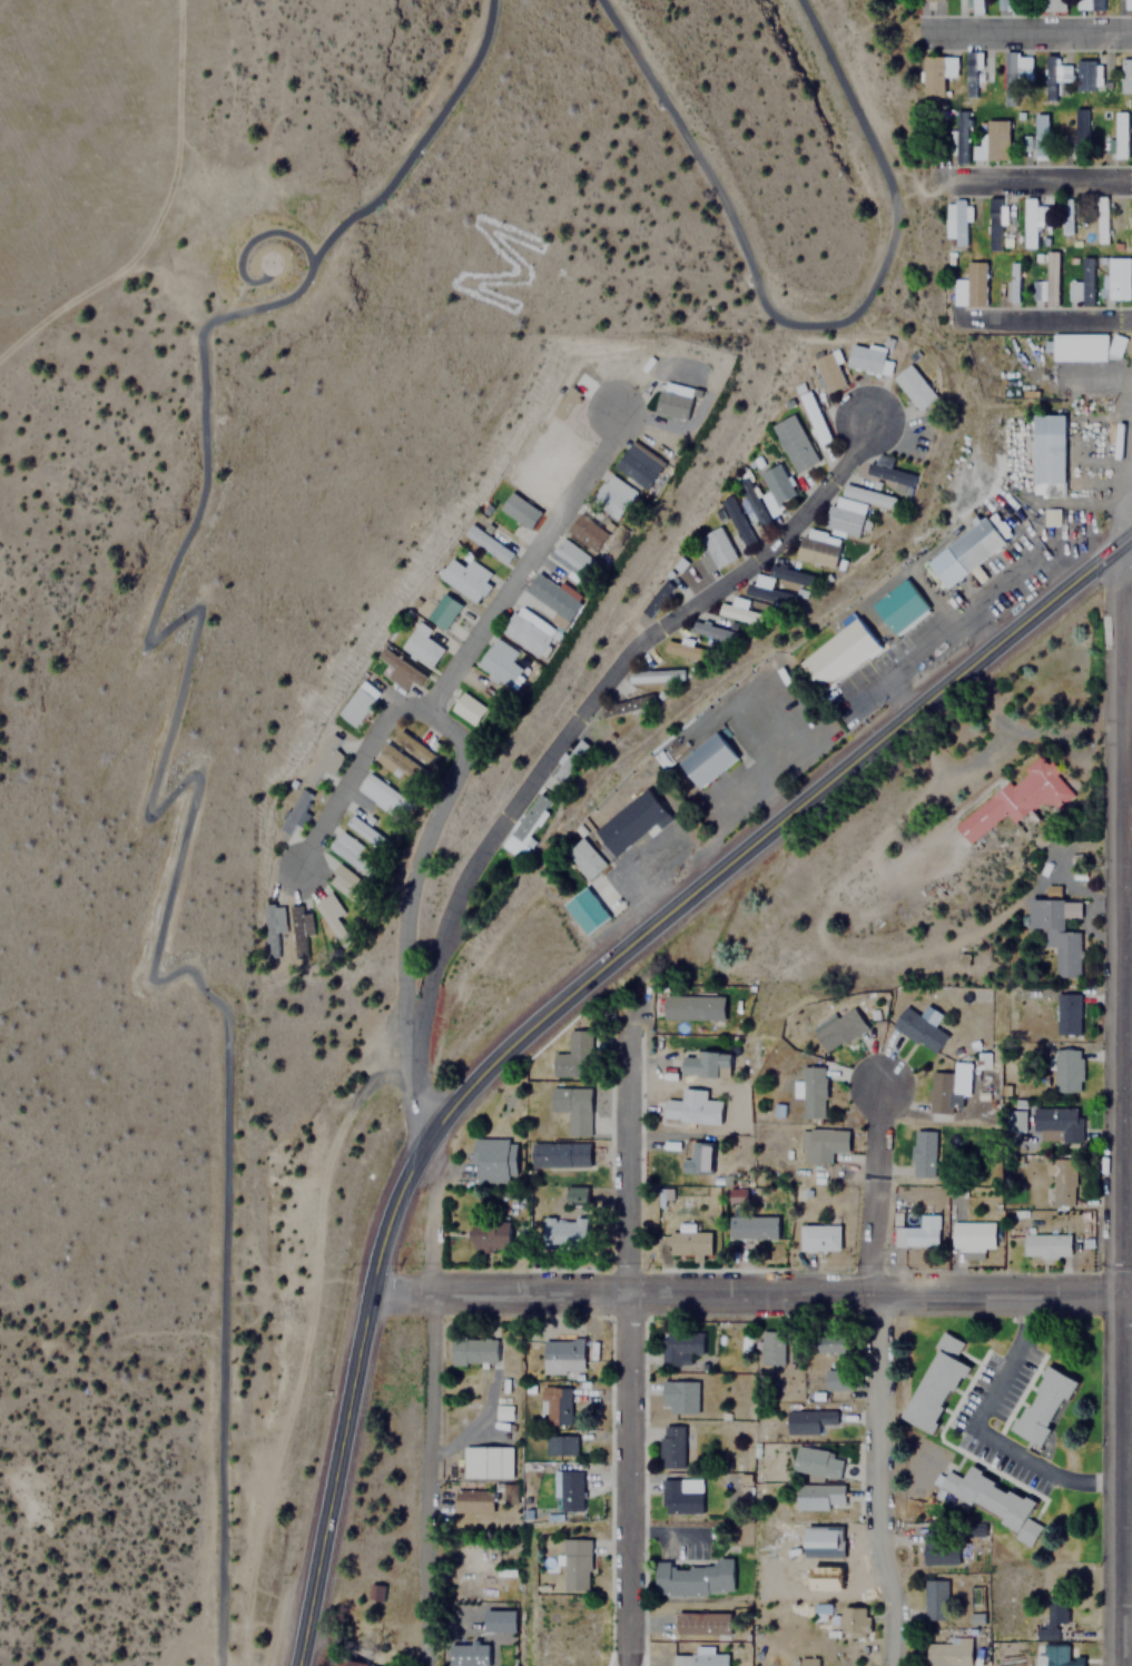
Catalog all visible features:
building: (931, 0)
building: (1089, 4)
building: (1013, 6)
building: (1053, 6)
building: (1128, 6)
building: (976, 7)
road: (1026, 23)
building: (1054, 71)
building: (934, 73)
building: (971, 73)
building: (1013, 73)
building: (1084, 76)
building: (1125, 76)
building: (1039, 136)
building: (1116, 136)
building: (958, 137)
building: (1074, 138)
building: (996, 139)
road: (1043, 171)
building: (1064, 215)
building: (1100, 219)
building: (953, 221)
building: (1028, 221)
building: (993, 224)
building: (1130, 226)
road: (255, 236)
park: (510, 266)
building: (1049, 278)
building: (1115, 278)
building: (1016, 284)
building: (1080, 285)
building: (968, 286)
building: (1039, 292)
road: (1044, 309)
road: (807, 324)
building: (1114, 346)
building: (1079, 347)
building: (864, 357)
building: (826, 369)
building: (913, 385)
building: (672, 398)
building: (567, 403)
building: (813, 416)
building: (793, 443)
building: (1046, 454)
building: (639, 465)
building: (886, 473)
building: (775, 483)
road: (1125, 492)
building: (611, 495)
building: (867, 495)
building: (749, 502)
building: (519, 510)
building: (734, 519)
building: (857, 519)
building: (587, 531)
road: (1125, 535)
building: (485, 542)
building: (716, 545)
building: (816, 546)
building: (964, 551)
building: (570, 561)
road: (532, 562)
building: (464, 578)
building: (768, 590)
building: (549, 598)
building: (653, 599)
building: (898, 605)
building: (442, 611)
building: (740, 612)
building: (713, 630)
building: (526, 632)
building: (421, 648)
building: (686, 649)
building: (837, 653)
building: (498, 662)
building: (398, 670)
building: (656, 674)
building: (356, 703)
building: (626, 706)
building: (466, 708)
road: (565, 729)
building: (412, 746)
road: (459, 753)
building: (569, 758)
building: (323, 759)
building: (705, 759)
building: (398, 765)
building: (382, 793)
road: (149, 795)
building: (1014, 798)
building: (294, 811)
building: (629, 821)
building: (364, 830)
building: (350, 852)
building: (583, 858)
road: (1125, 878)
building: (343, 883)
building: (1053, 890)
building: (584, 910)
building: (328, 913)
building: (269, 927)
building: (298, 928)
building: (1056, 933)
road: (553, 1004)
building: (692, 1006)
building: (1066, 1013)
building: (838, 1028)
building: (918, 1031)
building: (573, 1055)
building: (702, 1063)
building: (1067, 1071)
building: (811, 1092)
building: (942, 1092)
road: (1115, 1103)
building: (571, 1107)
building: (691, 1107)
building: (1057, 1121)
building: (820, 1144)
building: (922, 1153)
building: (558, 1154)
building: (697, 1159)
building: (491, 1161)
building: (1061, 1182)
building: (738, 1194)
building: (572, 1195)
building: (752, 1226)
building: (564, 1229)
building: (916, 1232)
building: (488, 1235)
building: (972, 1235)
building: (818, 1238)
building: (689, 1243)
building: (1045, 1244)
road: (749, 1295)
road: (623, 1334)
building: (829, 1345)
building: (678, 1347)
building: (770, 1347)
building: (473, 1352)
building: (561, 1354)
road: (874, 1378)
building: (837, 1380)
building: (936, 1384)
building: (678, 1397)
road: (427, 1401)
building: (1042, 1406)
building: (557, 1408)
building: (807, 1420)
building: (559, 1446)
building: (670, 1446)
building: (486, 1461)
building: (816, 1461)
building: (567, 1491)
building: (510, 1494)
building: (677, 1496)
building: (819, 1497)
building: (472, 1501)
building: (991, 1501)
building: (938, 1545)
building: (573, 1564)
building: (691, 1578)
building: (376, 1593)
building: (934, 1599)
building: (1050, 1617)
building: (855, 1621)
building: (701, 1623)
building: (947, 1650)
building: (1056, 1656)
building: (699, 1659)
building: (806, 1662)
building: (348, 1664)

